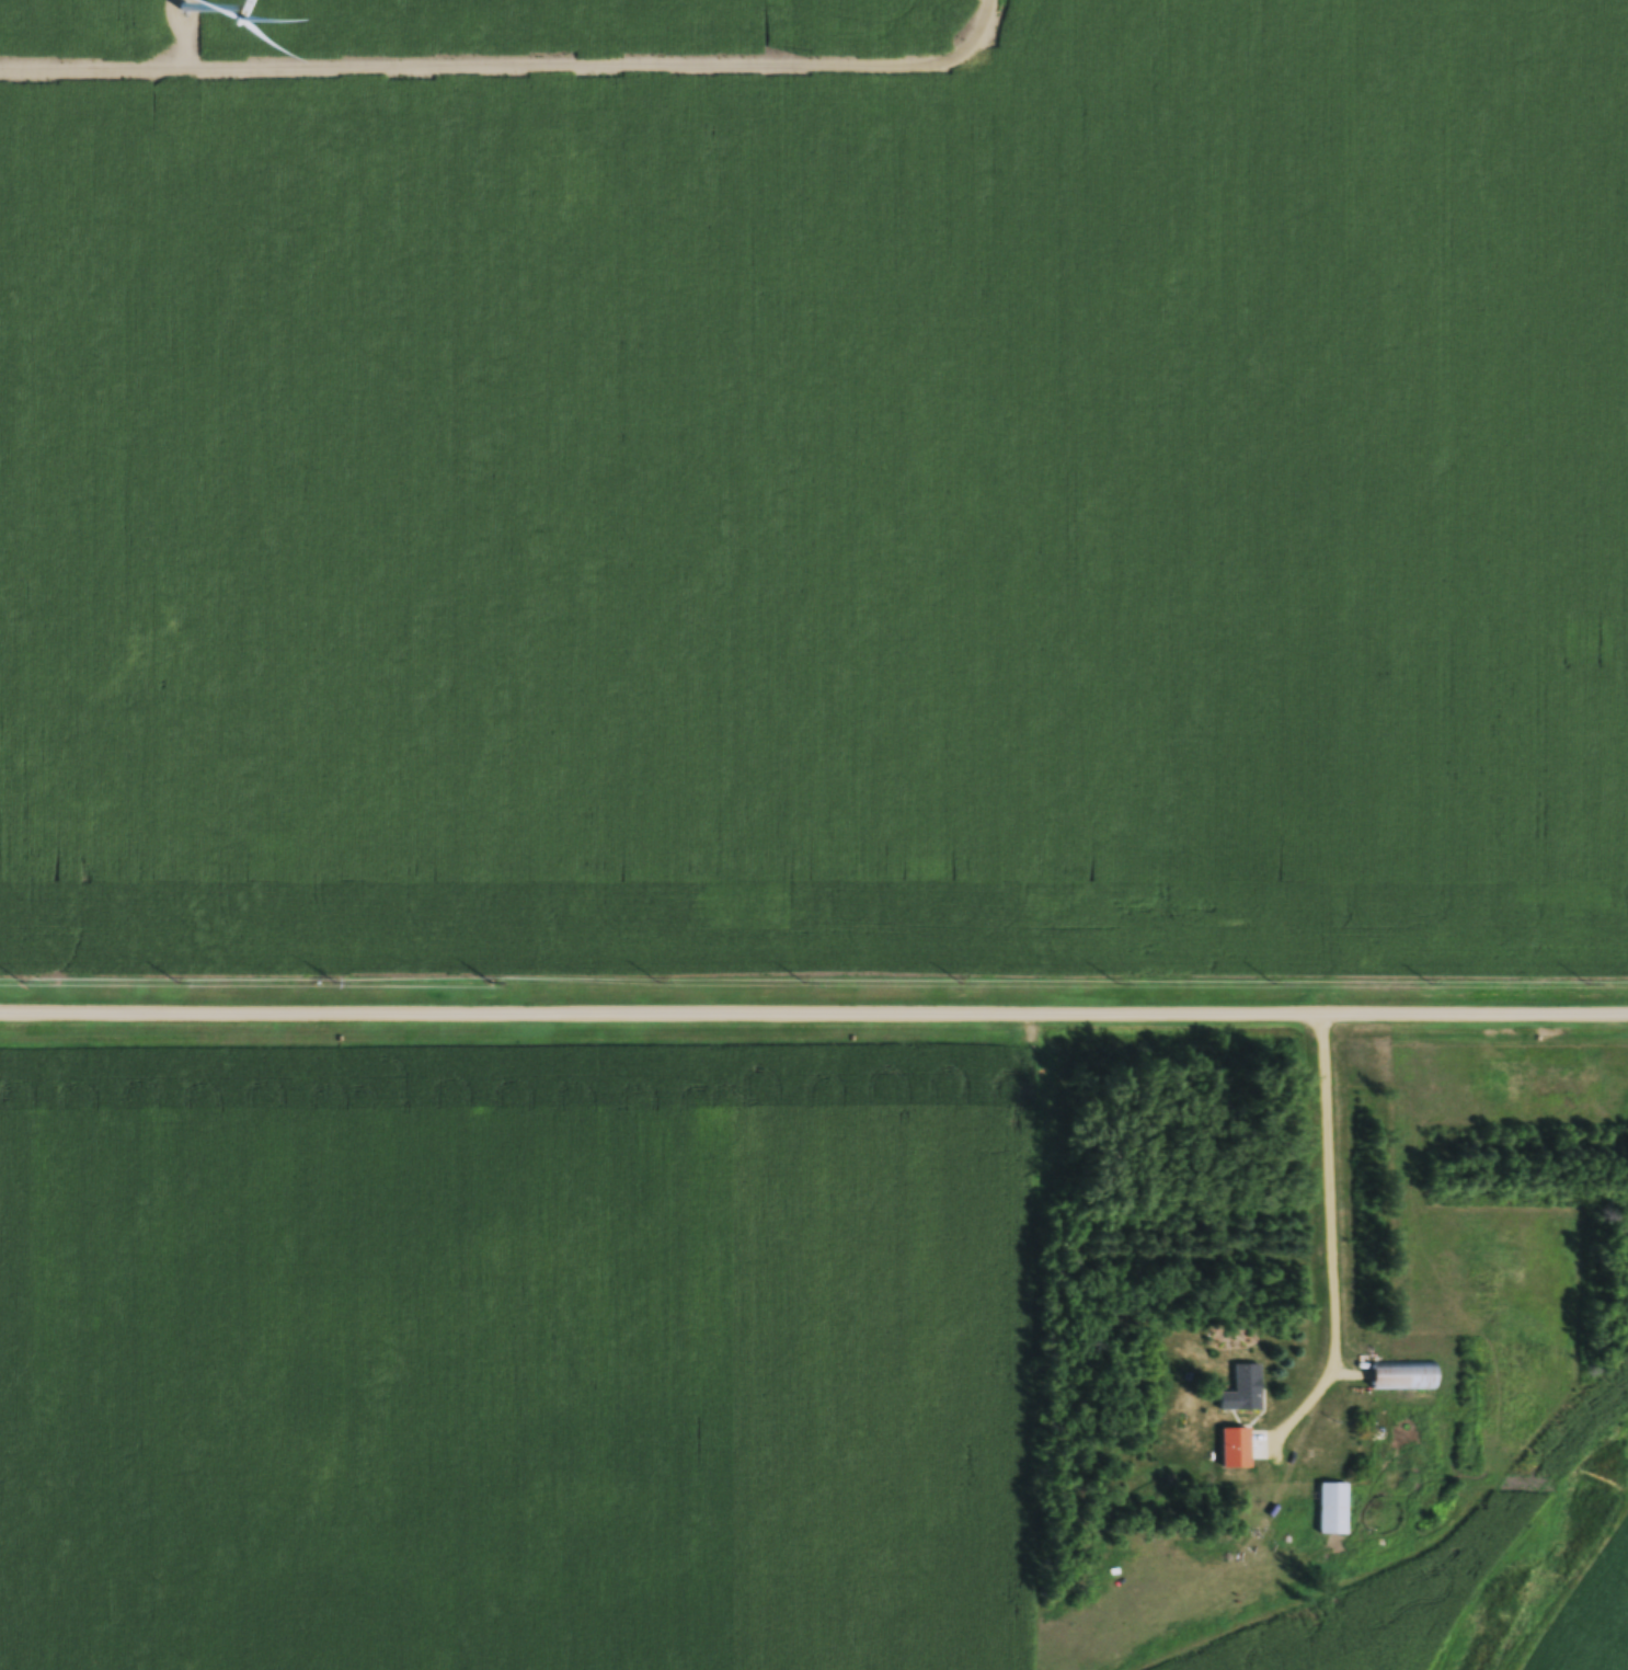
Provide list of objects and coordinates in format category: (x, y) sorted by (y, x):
wind turbine: (184, 10)
road: (814, 995)
road: (1331, 1223)
building: (1405, 1376)
building: (1245, 1389)
building: (1236, 1460)
building: (1333, 1509)

